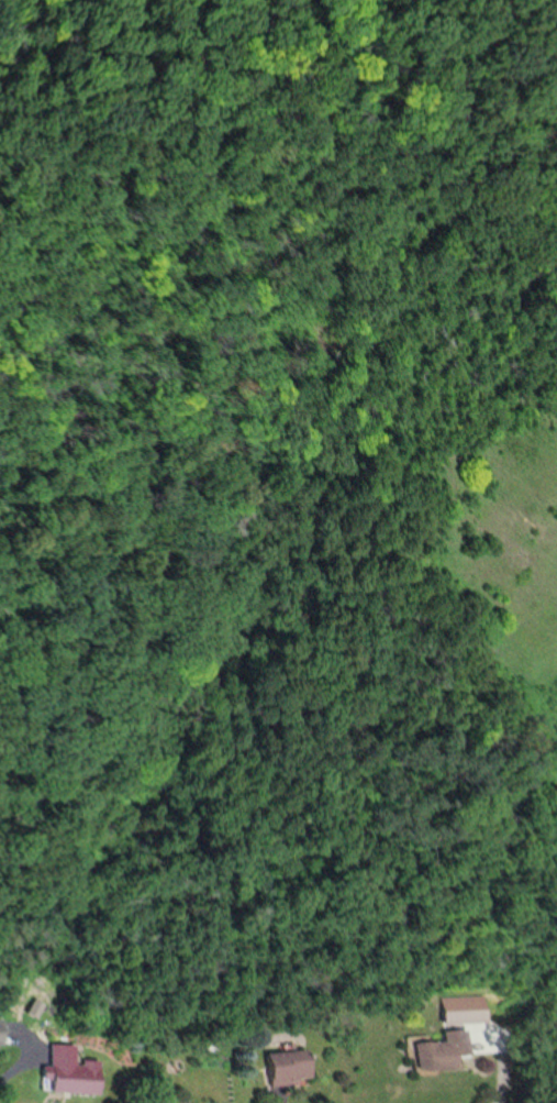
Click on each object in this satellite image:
building: (2, 1029)
building: (445, 1049)
road: (10, 1061)
building: (292, 1066)
building: (71, 1070)
road: (491, 1095)

